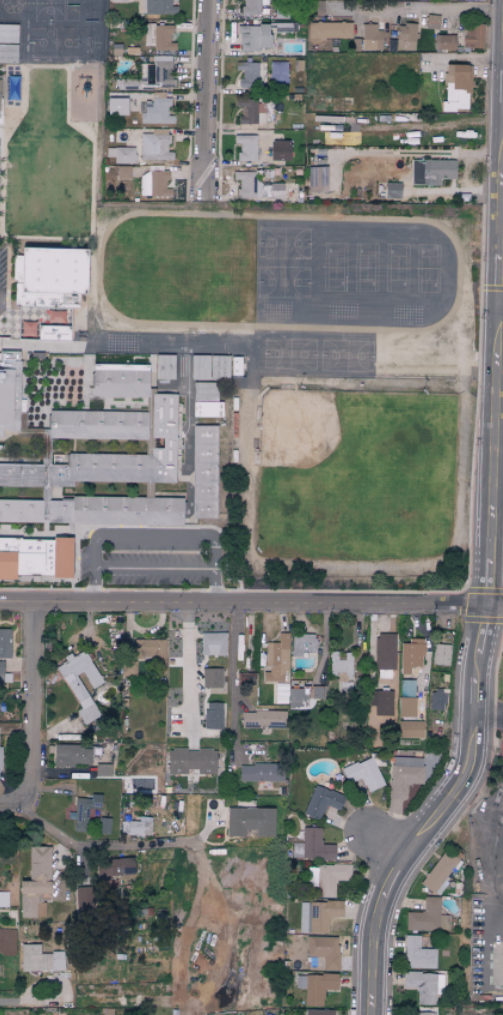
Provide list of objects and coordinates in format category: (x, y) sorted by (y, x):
building: (117, 0)
building: (158, 6)
building: (251, 7)
building: (324, 8)
road: (420, 10)
building: (432, 21)
building: (279, 27)
building: (329, 30)
building: (8, 34)
building: (371, 35)
building: (473, 36)
building: (158, 37)
building: (253, 37)
building: (405, 37)
building: (444, 42)
building: (8, 53)
building: (156, 71)
building: (278, 73)
building: (247, 74)
building: (456, 87)
road: (205, 103)
building: (116, 106)
building: (250, 111)
building: (156, 112)
building: (154, 146)
building: (246, 147)
building: (279, 150)
building: (121, 155)
building: (431, 171)
building: (122, 173)
building: (316, 179)
building: (153, 184)
building: (247, 185)
building: (275, 190)
building: (392, 190)
building: (50, 278)
road: (501, 308)
building: (55, 317)
building: (52, 333)
building: (235, 366)
building: (164, 367)
building: (208, 367)
building: (119, 381)
road: (496, 382)
building: (204, 391)
building: (9, 392)
building: (206, 409)
building: (97, 425)
building: (95, 467)
building: (203, 471)
park: (353, 476)
building: (115, 511)
road: (155, 538)
building: (35, 557)
road: (154, 568)
road: (251, 608)
building: (212, 644)
building: (302, 644)
building: (150, 651)
building: (384, 651)
building: (4, 652)
building: (441, 654)
building: (411, 655)
building: (277, 659)
building: (342, 666)
road: (188, 671)
building: (211, 678)
building: (81, 684)
road: (233, 684)
building: (436, 700)
building: (294, 701)
road: (33, 704)
building: (406, 707)
building: (212, 716)
road: (490, 717)
building: (263, 719)
building: (409, 729)
building: (71, 755)
building: (0, 757)
building: (191, 761)
building: (102, 770)
building: (260, 773)
building: (364, 774)
building: (404, 775)
road: (15, 802)
building: (321, 802)
road: (502, 808)
building: (83, 812)
road: (435, 813)
building: (249, 822)
building: (103, 826)
building: (139, 827)
road: (498, 836)
road: (390, 838)
road: (102, 845)
building: (311, 847)
building: (114, 866)
building: (438, 872)
building: (326, 878)
building: (35, 883)
building: (81, 895)
building: (3, 899)
building: (318, 915)
building: (427, 917)
building: (7, 940)
road: (488, 949)
building: (324, 950)
building: (417, 954)
building: (40, 958)
building: (502, 975)
building: (423, 985)
building: (315, 986)
road: (33, 1002)
building: (319, 1012)
building: (424, 1013)

